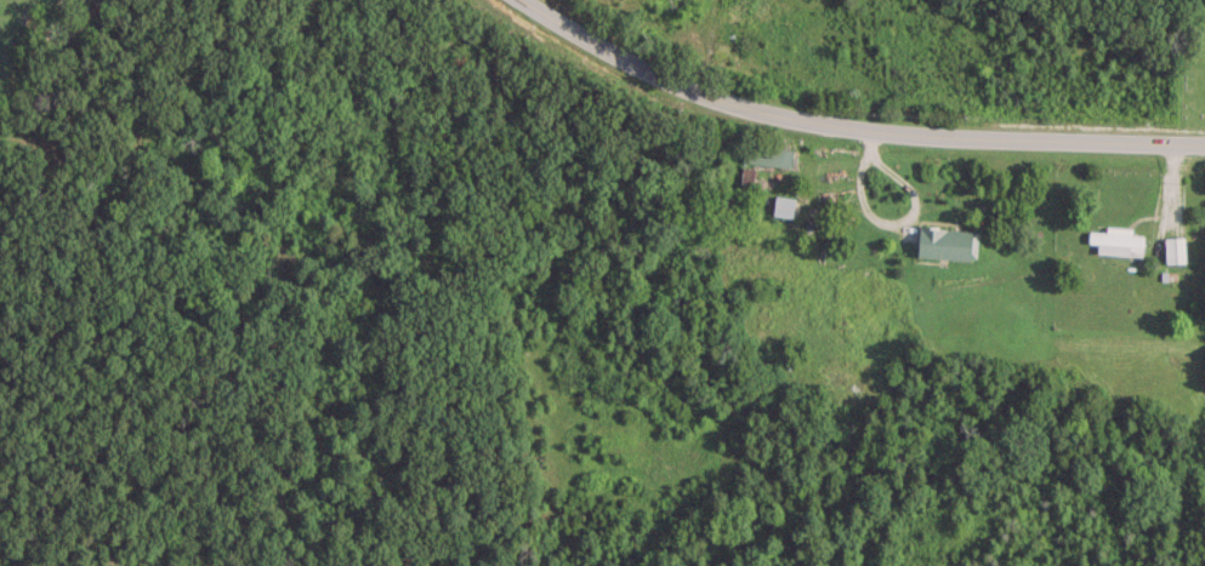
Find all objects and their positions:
park: (1189, 64)
road: (849, 125)
building: (765, 153)
building: (783, 204)
building: (1115, 239)
building: (944, 240)
building: (1172, 247)

